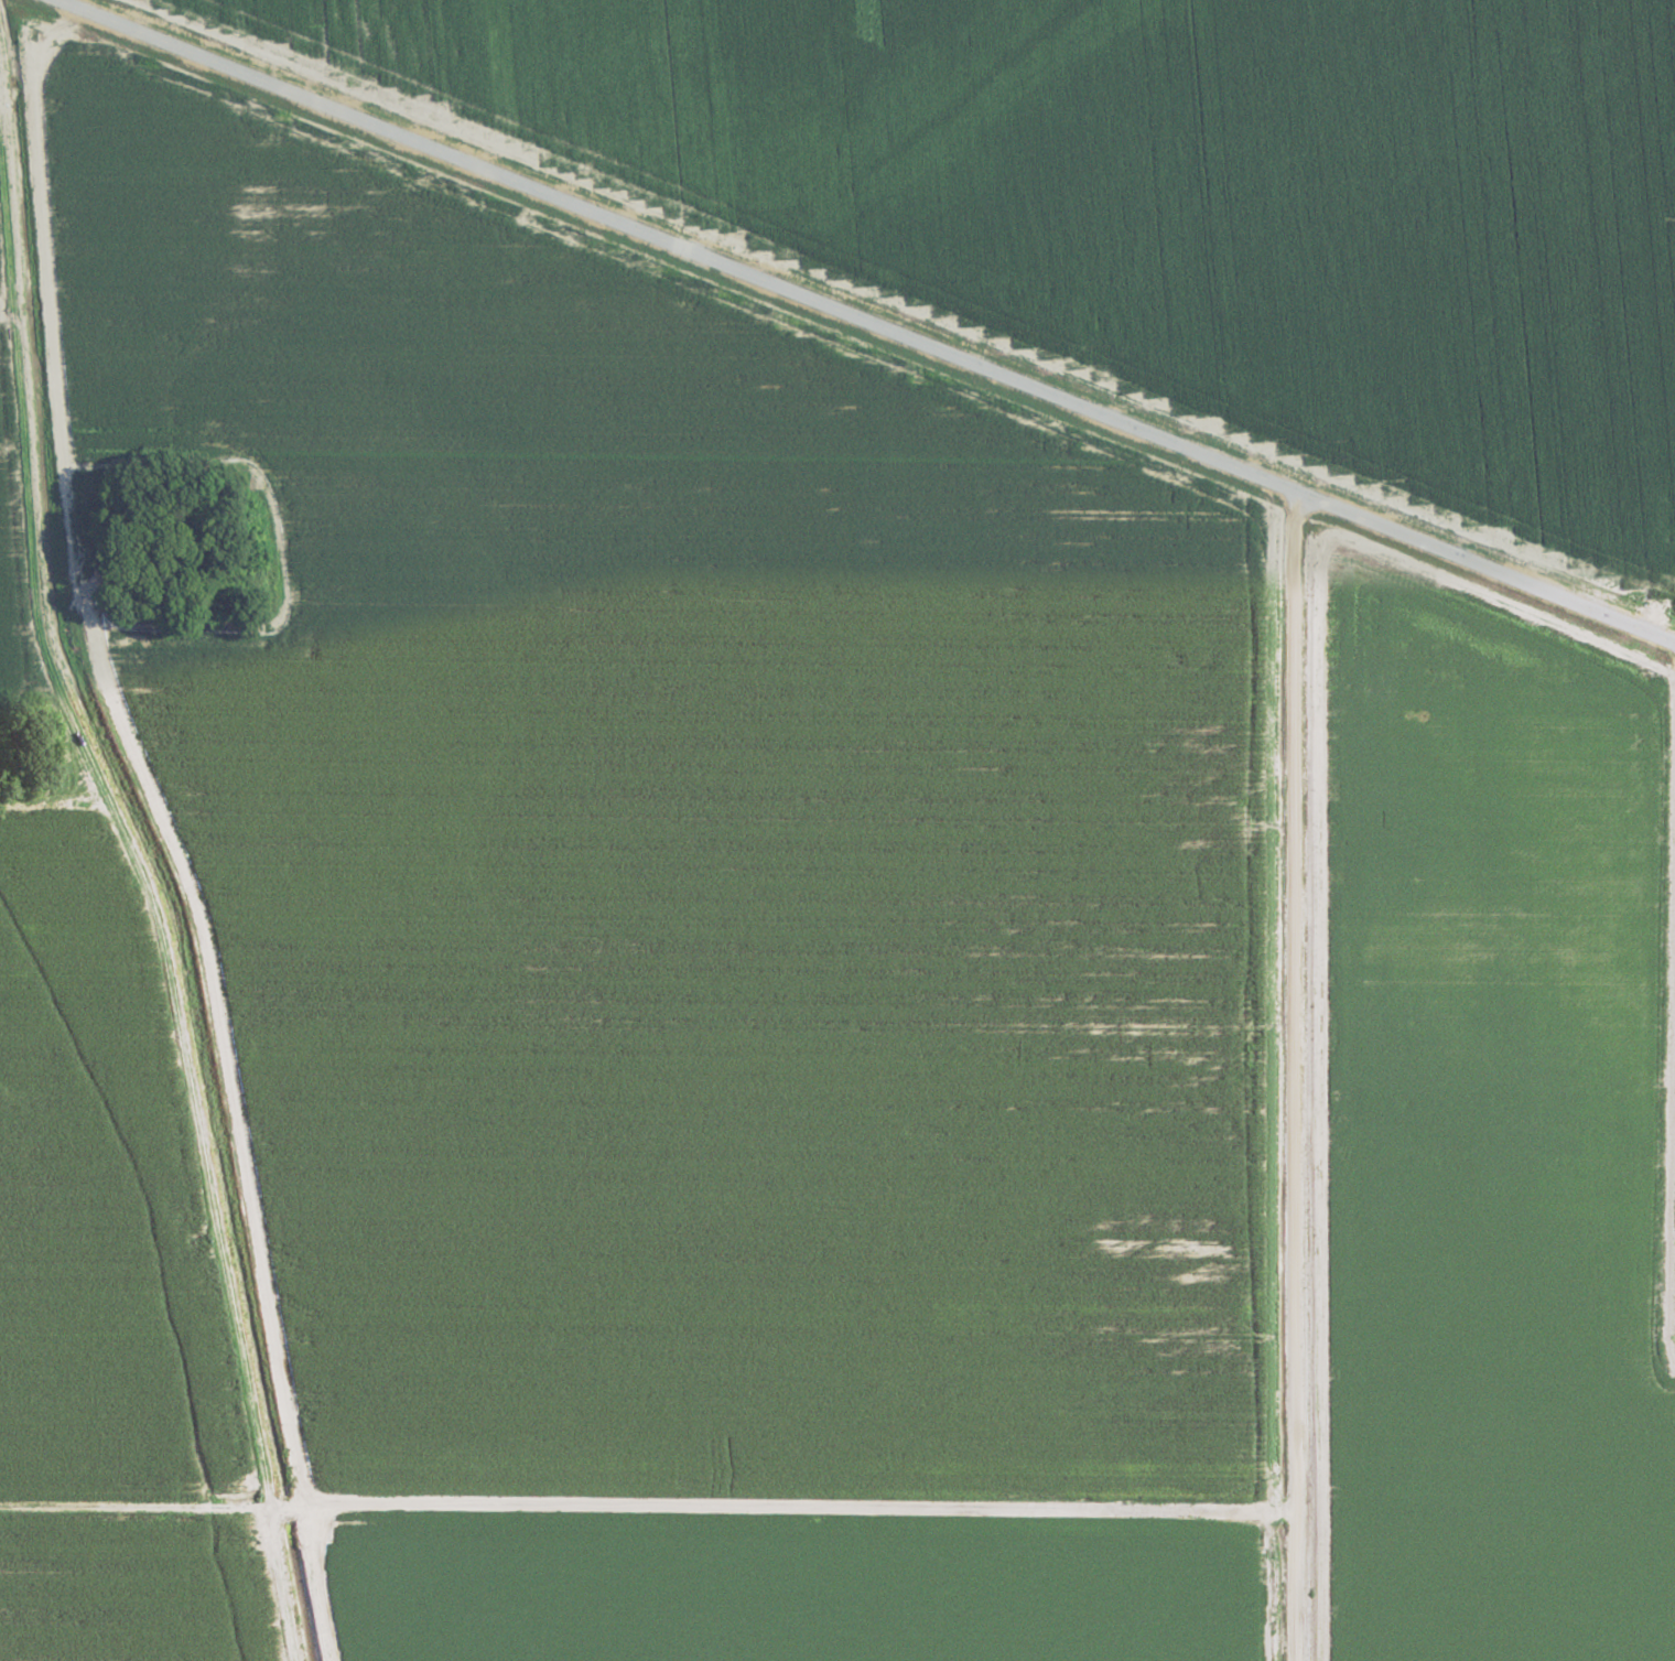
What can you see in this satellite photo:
road: (668, 244)
road: (1643, 316)
road: (1479, 565)
road: (1284, 1074)
road: (641, 1503)

